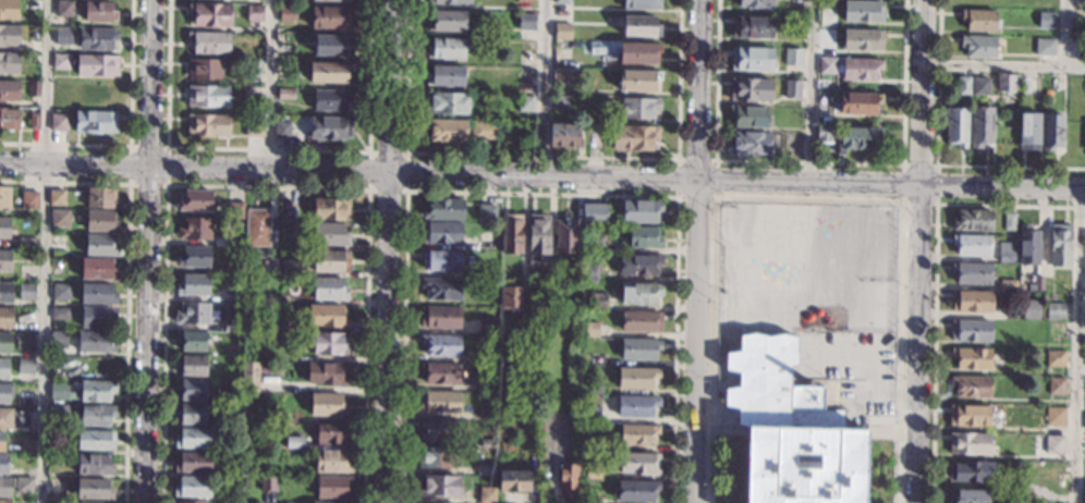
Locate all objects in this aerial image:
building: (336, 0)
building: (1082, 0)
building: (524, 1)
building: (449, 2)
building: (562, 2)
building: (794, 2)
building: (642, 4)
building: (755, 4)
building: (63, 9)
building: (8, 10)
building: (863, 11)
building: (99, 12)
building: (254, 14)
building: (1080, 14)
building: (209, 15)
building: (288, 15)
building: (330, 17)
building: (827, 17)
building: (1046, 20)
building: (446, 21)
building: (978, 21)
building: (526, 22)
building: (639, 26)
building: (751, 27)
building: (562, 30)
building: (34, 34)
road: (1069, 34)
building: (9, 35)
building: (63, 36)
building: (97, 38)
building: (826, 40)
building: (862, 40)
building: (208, 42)
building: (330, 46)
building: (978, 46)
building: (1044, 47)
building: (446, 48)
building: (284, 52)
building: (638, 53)
building: (792, 57)
building: (751, 59)
building: (60, 62)
building: (9, 63)
building: (97, 65)
building: (827, 65)
road: (1005, 65)
building: (252, 69)
building: (204, 70)
building: (861, 70)
building: (284, 71)
building: (328, 72)
building: (443, 76)
building: (564, 77)
building: (525, 82)
building: (638, 82)
building: (1007, 83)
road: (269, 84)
building: (962, 86)
building: (980, 86)
building: (1028, 86)
road: (545, 87)
building: (34, 88)
building: (751, 89)
building: (791, 89)
road: (809, 89)
building: (9, 91)
building: (249, 95)
building: (285, 95)
building: (207, 96)
building: (330, 100)
building: (560, 102)
building: (447, 103)
building: (860, 103)
building: (526, 105)
building: (638, 108)
building: (748, 116)
building: (9, 119)
building: (34, 121)
building: (95, 122)
building: (59, 123)
building: (207, 125)
building: (980, 126)
building: (253, 127)
building: (956, 127)
building: (281, 130)
building: (328, 130)
building: (483, 130)
building: (446, 131)
building: (1028, 132)
building: (1052, 132)
building: (824, 134)
building: (562, 135)
building: (594, 138)
building: (633, 138)
building: (856, 139)
building: (749, 144)
road: (542, 173)
building: (4, 196)
building: (56, 197)
building: (101, 198)
building: (29, 199)
building: (195, 200)
building: (234, 210)
building: (331, 210)
building: (443, 210)
building: (639, 211)
building: (487, 213)
building: (593, 214)
building: (59, 218)
building: (973, 220)
building: (100, 221)
building: (1009, 221)
building: (257, 228)
building: (4, 229)
building: (194, 229)
building: (441, 233)
building: (511, 234)
building: (330, 235)
building: (538, 236)
building: (565, 236)
building: (643, 238)
building: (221, 242)
building: (27, 243)
building: (58, 243)
building: (593, 243)
building: (100, 245)
building: (971, 245)
building: (1027, 246)
building: (1060, 246)
road: (44, 250)
road: (147, 250)
road: (385, 250)
road: (918, 250)
road: (696, 251)
building: (1005, 251)
building: (193, 256)
building: (5, 260)
building: (330, 261)
building: (441, 261)
building: (639, 265)
park: (805, 266)
building: (289, 268)
building: (97, 269)
building: (231, 269)
building: (248, 272)
building: (574, 272)
building: (26, 273)
building: (490, 273)
building: (589, 273)
building: (972, 273)
building: (1038, 283)
building: (193, 284)
building: (1008, 285)
building: (441, 289)
building: (26, 291)
building: (329, 291)
building: (5, 292)
building: (60, 292)
building: (97, 294)
building: (639, 294)
building: (230, 296)
building: (252, 297)
building: (511, 298)
building: (596, 300)
building: (972, 300)
building: (227, 308)
building: (1031, 309)
building: (240, 311)
building: (1054, 311)
building: (60, 314)
building: (192, 314)
building: (326, 316)
building: (5, 317)
building: (97, 317)
building: (440, 318)
building: (641, 322)
building: (278, 326)
building: (486, 326)
building: (232, 327)
building: (520, 328)
building: (588, 330)
building: (971, 331)
building: (59, 340)
building: (275, 340)
building: (27, 341)
building: (191, 341)
building: (95, 342)
building: (5, 343)
building: (329, 344)
building: (441, 345)
road: (1074, 345)
building: (639, 349)
building: (488, 357)
building: (1054, 358)
building: (971, 359)
building: (26, 366)
building: (191, 366)
building: (3, 368)
building: (440, 373)
building: (254, 375)
building: (326, 375)
building: (636, 378)
building: (486, 383)
building: (971, 387)
building: (1056, 387)
building: (592, 388)
building: (191, 390)
building: (60, 391)
building: (96, 391)
building: (3, 393)
building: (25, 401)
building: (439, 402)
building: (327, 405)
building: (636, 406)
building: (59, 413)
building: (96, 415)
building: (190, 415)
building: (592, 415)
building: (968, 416)
building: (280, 418)
building: (1056, 418)
building: (14, 419)
building: (438, 430)
building: (790, 430)
building: (333, 434)
building: (637, 434)
building: (193, 438)
building: (10, 440)
building: (95, 440)
building: (1, 441)
building: (294, 442)
building: (487, 443)
building: (1054, 443)
building: (968, 444)
building: (436, 457)
building: (332, 462)
building: (193, 463)
building: (638, 463)
building: (4, 465)
building: (94, 465)
building: (486, 470)
building: (971, 471)
building: (229, 474)
building: (593, 474)
building: (1052, 474)
building: (568, 480)
building: (513, 481)
building: (267, 483)
building: (24, 486)
building: (4, 487)
building: (438, 487)
building: (56, 488)
building: (191, 488)
building: (333, 488)
building: (94, 489)
building: (636, 491)
building: (486, 495)
building: (1084, 495)
building: (967, 496)
building: (592, 500)
building: (4, 501)
building: (56, 502)
building: (89, 502)
building: (190, 502)
building: (256, 502)
building: (329, 502)

